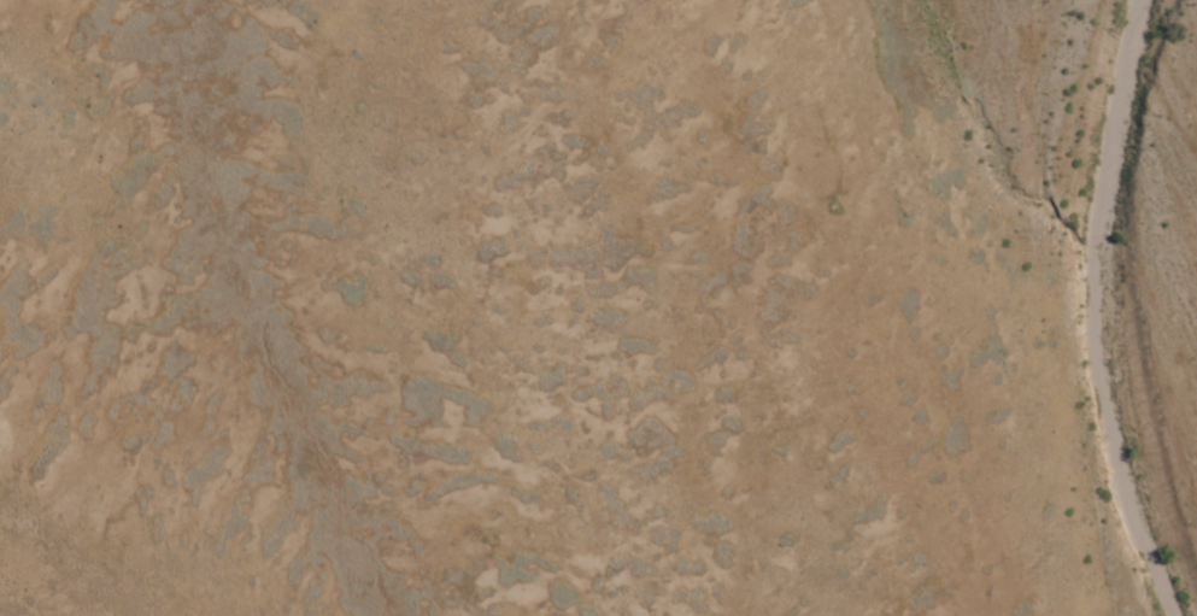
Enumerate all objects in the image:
river: (1132, 311)

